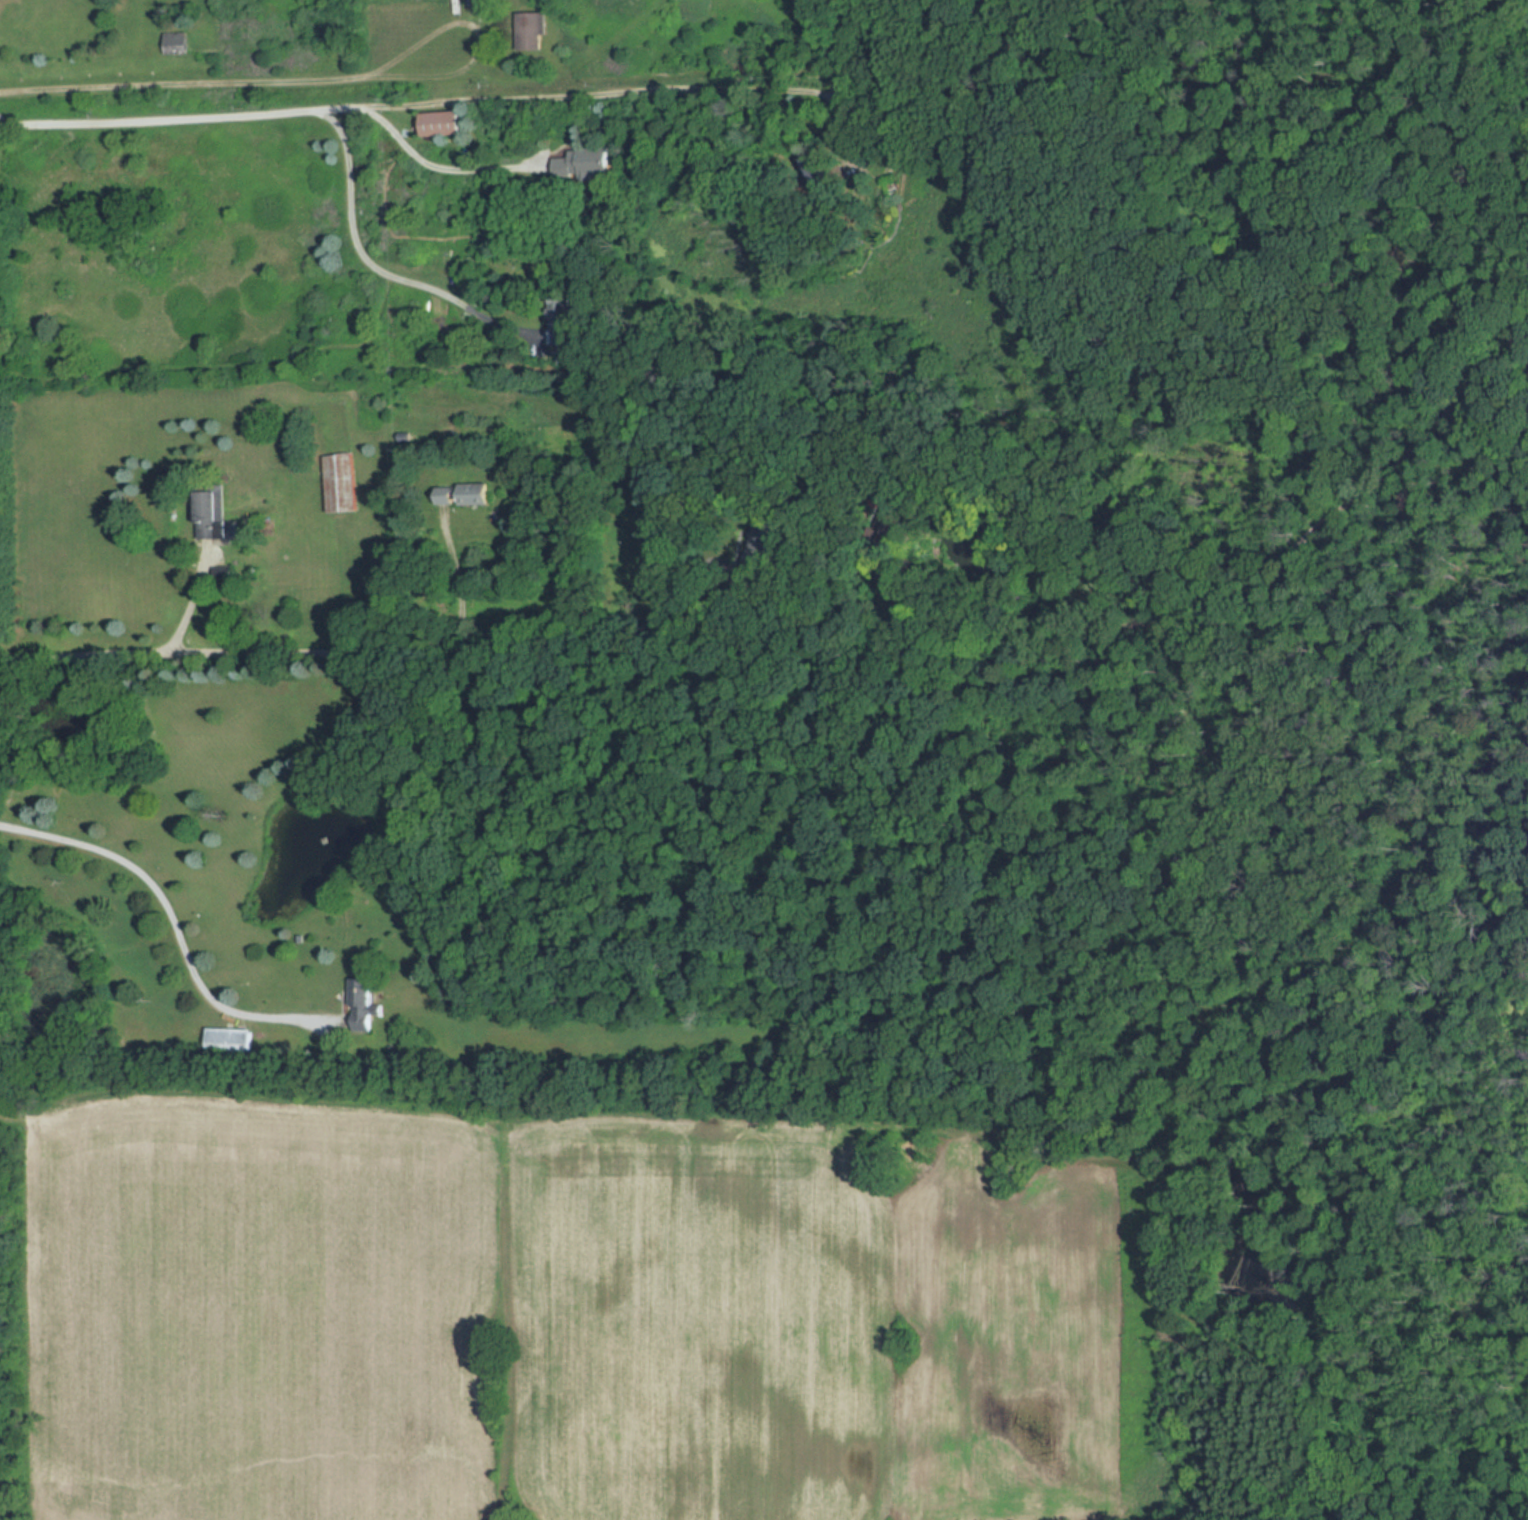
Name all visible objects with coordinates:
building: (532, 29)
road: (478, 36)
building: (176, 42)
road: (180, 82)
road: (403, 98)
building: (441, 122)
road: (444, 161)
building: (581, 162)
road: (360, 244)
building: (555, 320)
building: (338, 482)
building: (462, 493)
building: (210, 516)
road: (459, 580)
road: (189, 604)
road: (798, 633)
road: (171, 910)
building: (361, 1000)
building: (229, 1041)

